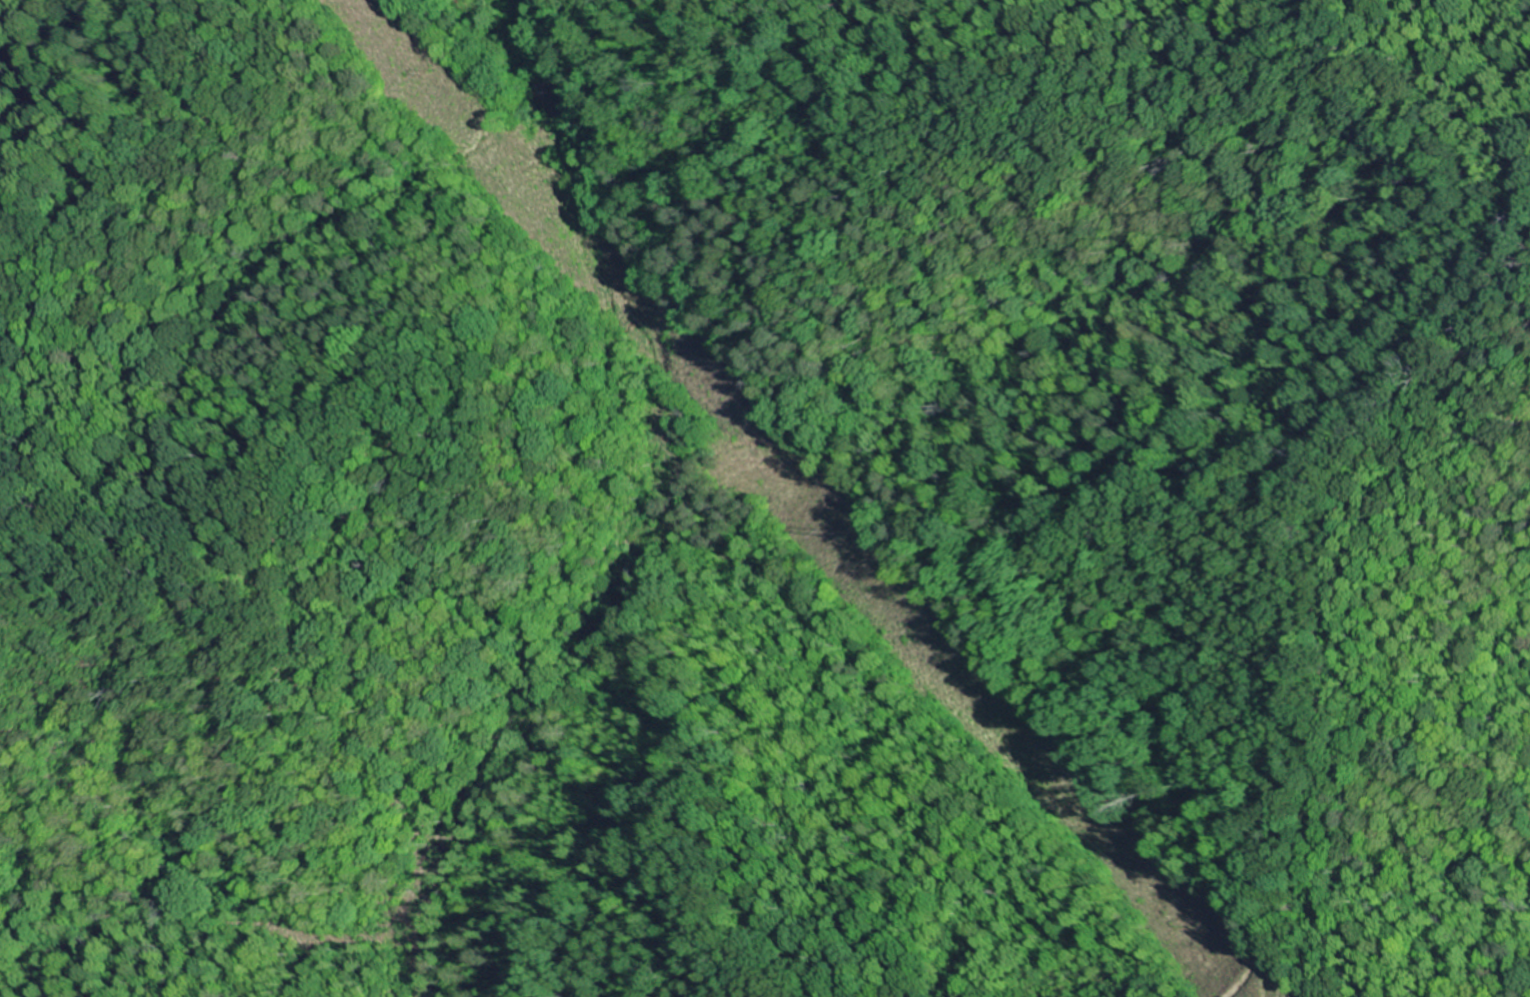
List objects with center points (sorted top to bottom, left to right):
building: (551, 100)
road: (571, 502)

